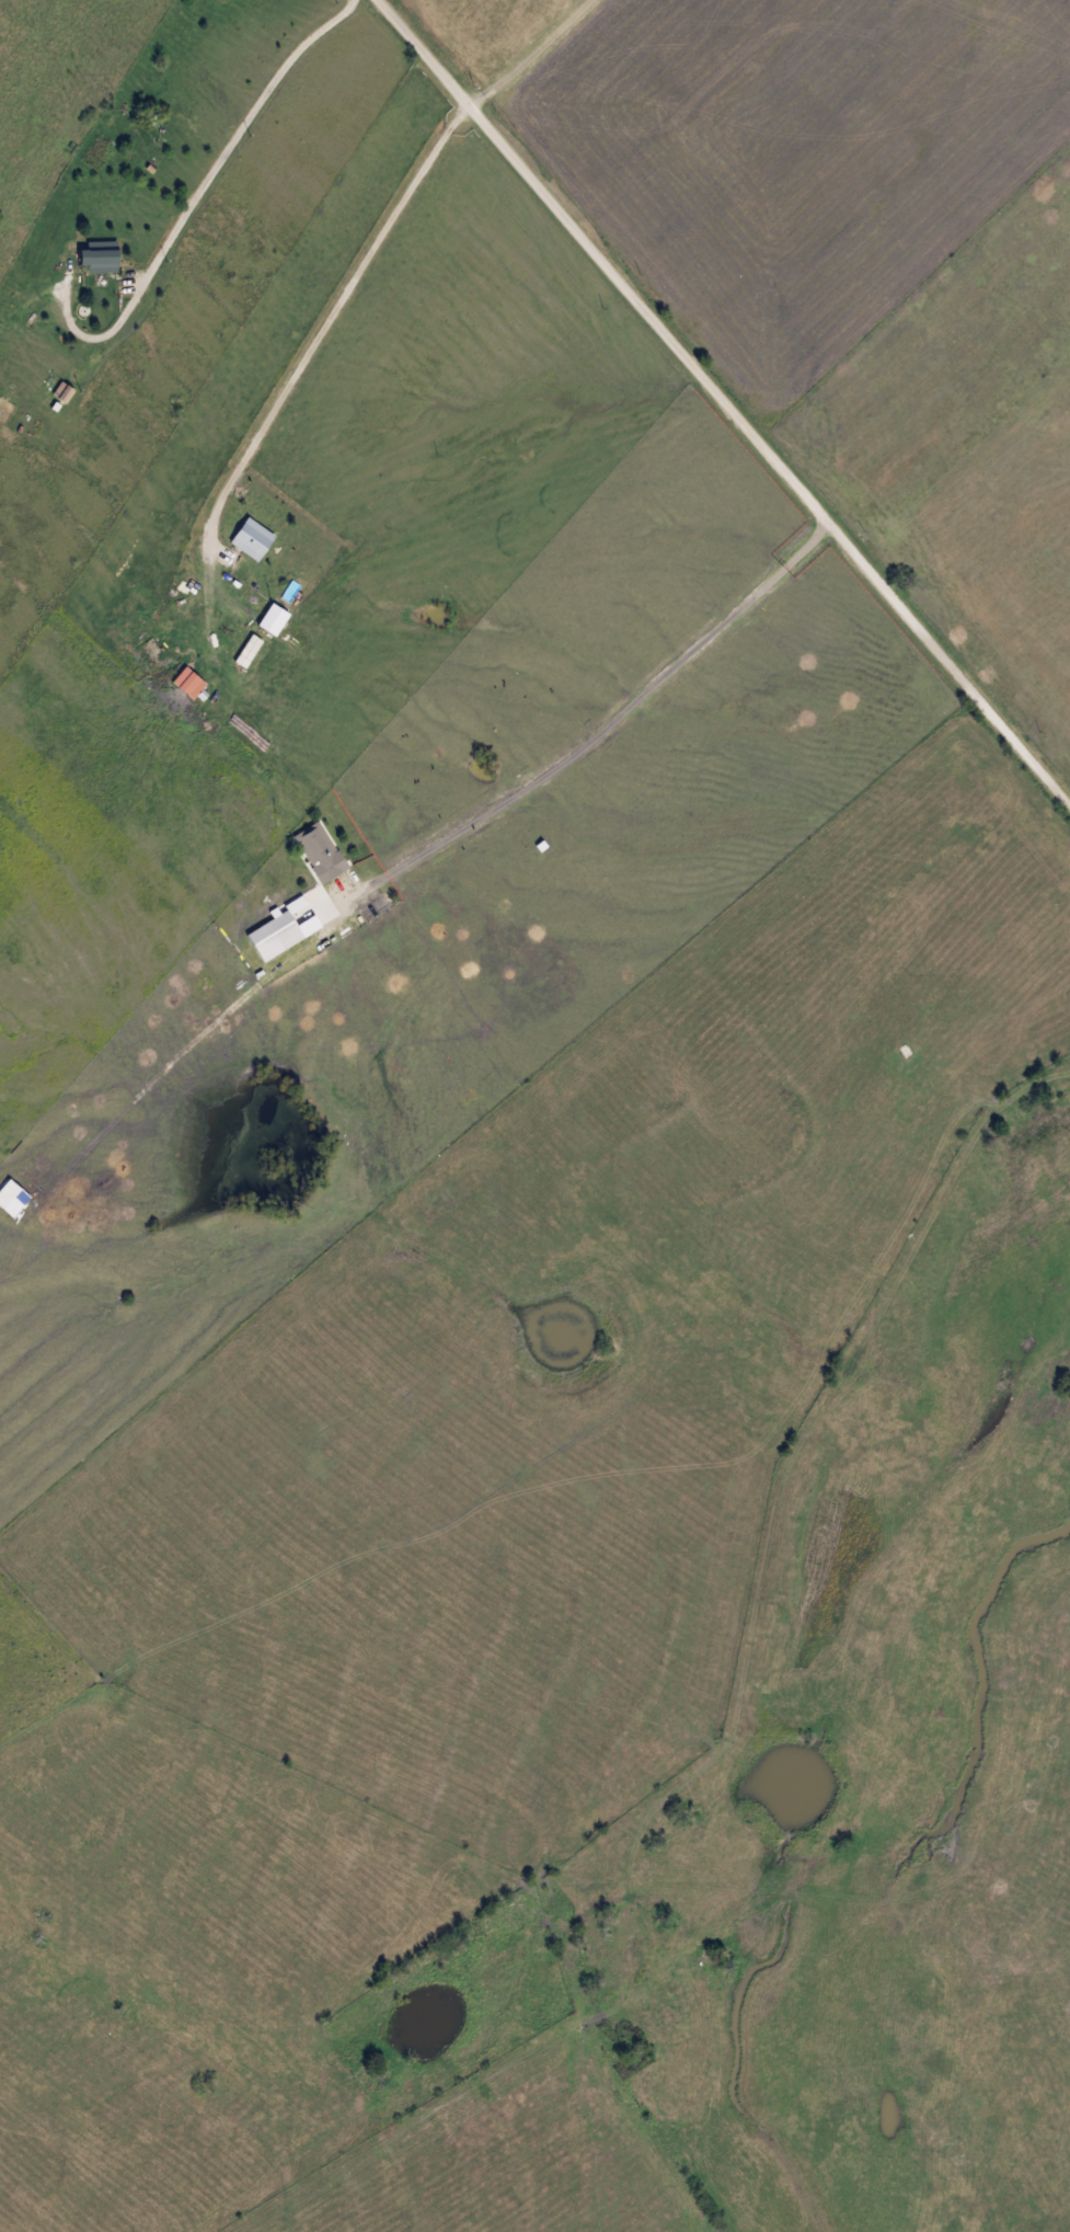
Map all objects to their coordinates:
road: (529, 53)
road: (199, 198)
building: (97, 261)
road: (344, 305)
building: (64, 394)
road: (727, 404)
building: (251, 539)
building: (187, 682)
road: (605, 733)
building: (318, 850)
building: (274, 936)

